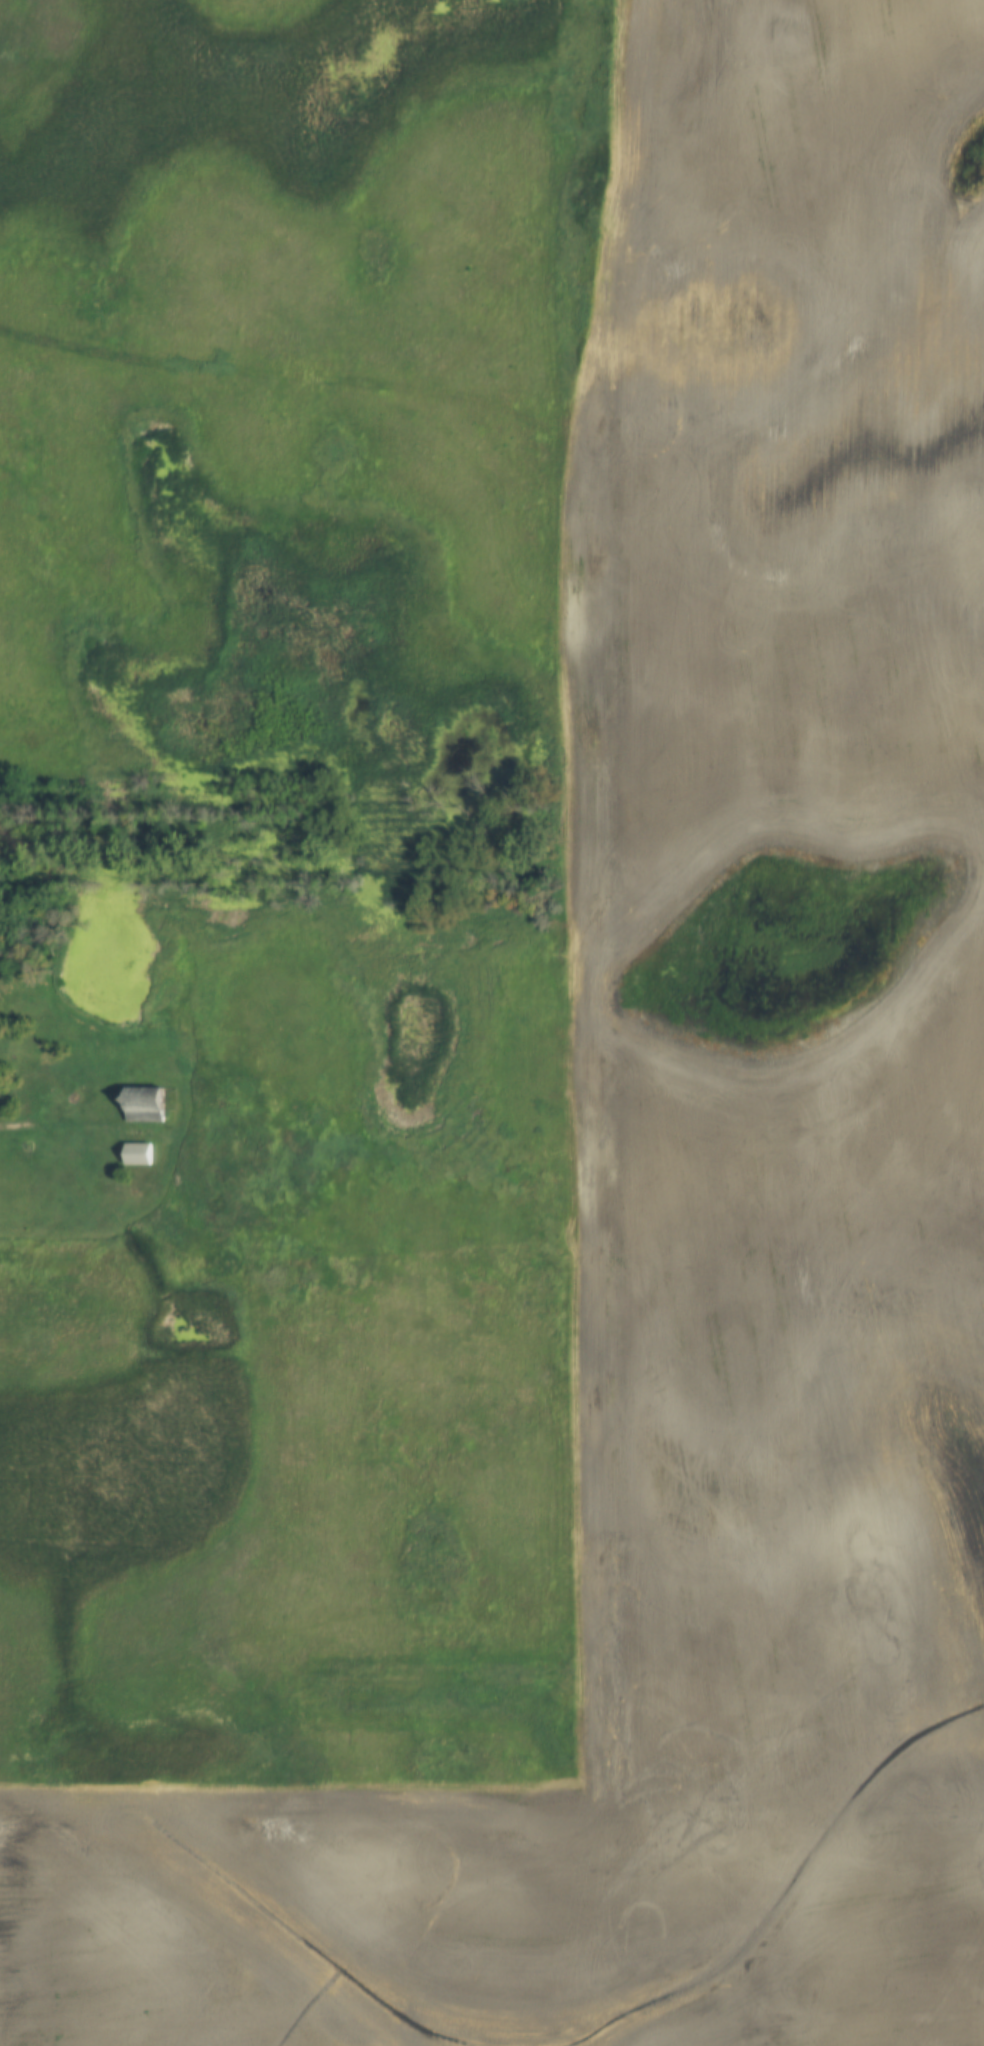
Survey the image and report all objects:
building: (144, 1105)
road: (32, 1128)
building: (137, 1155)

